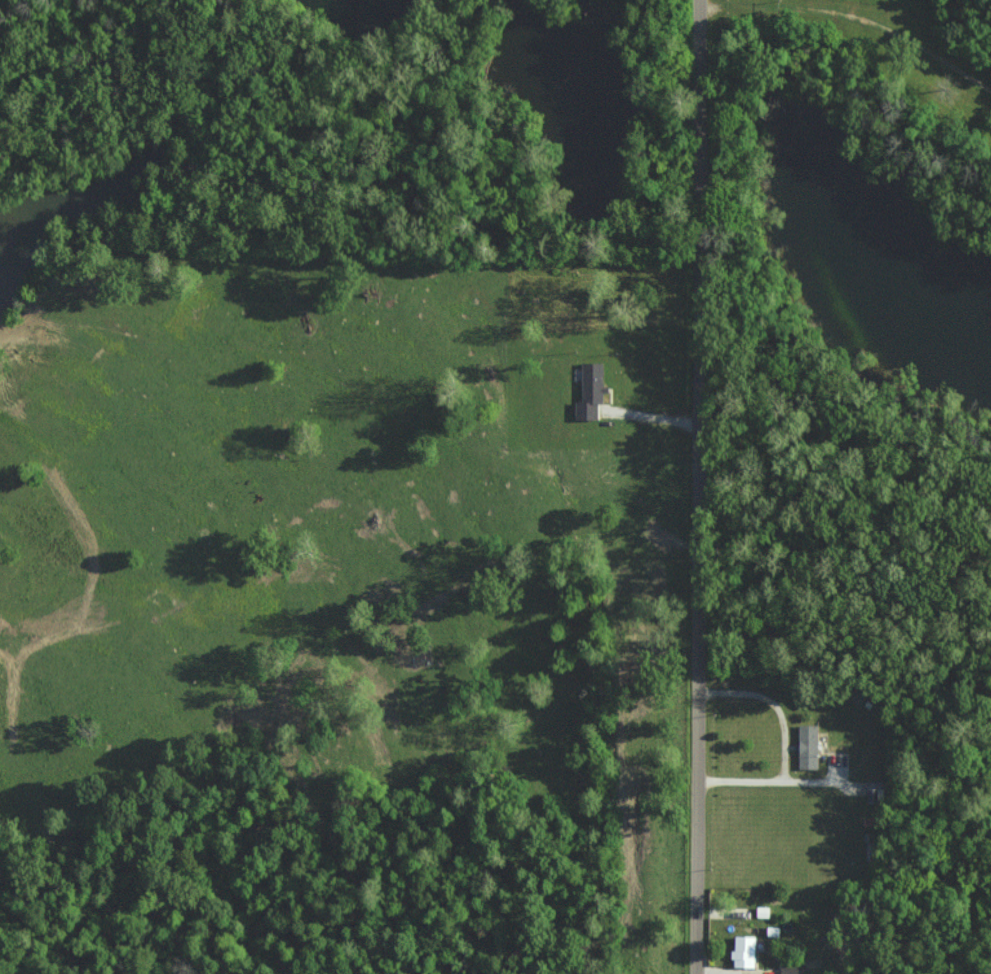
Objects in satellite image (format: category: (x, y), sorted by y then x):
road: (859, 19)
building: (593, 392)
road: (655, 420)
road: (704, 487)
road: (786, 745)
building: (805, 746)
building: (741, 950)

